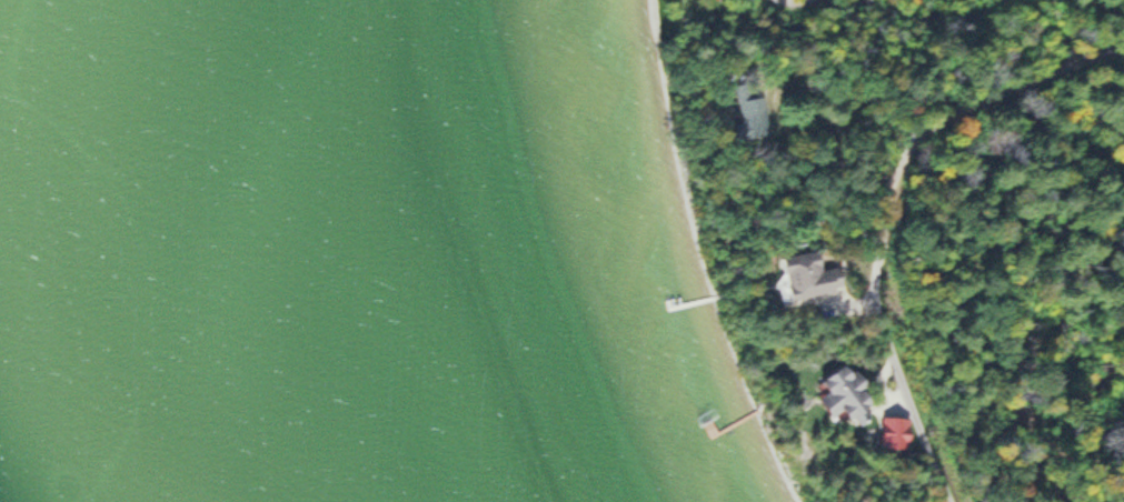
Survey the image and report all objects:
road: (794, 0)
road: (868, 4)
road: (937, 18)
building: (752, 119)
road: (887, 209)
building: (809, 274)
pier: (690, 301)
road: (849, 303)
road: (878, 386)
building: (846, 392)
road: (879, 403)
pier: (728, 421)

